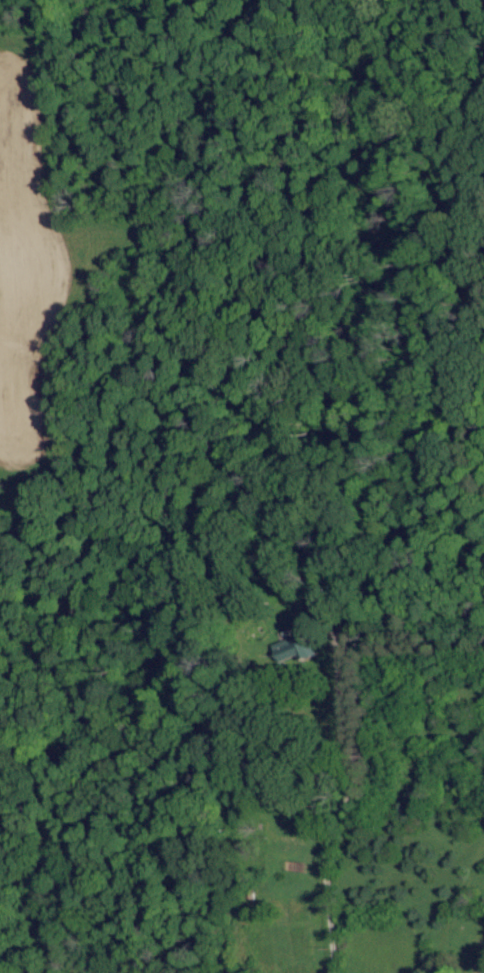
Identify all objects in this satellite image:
building: (287, 649)
road: (313, 952)

